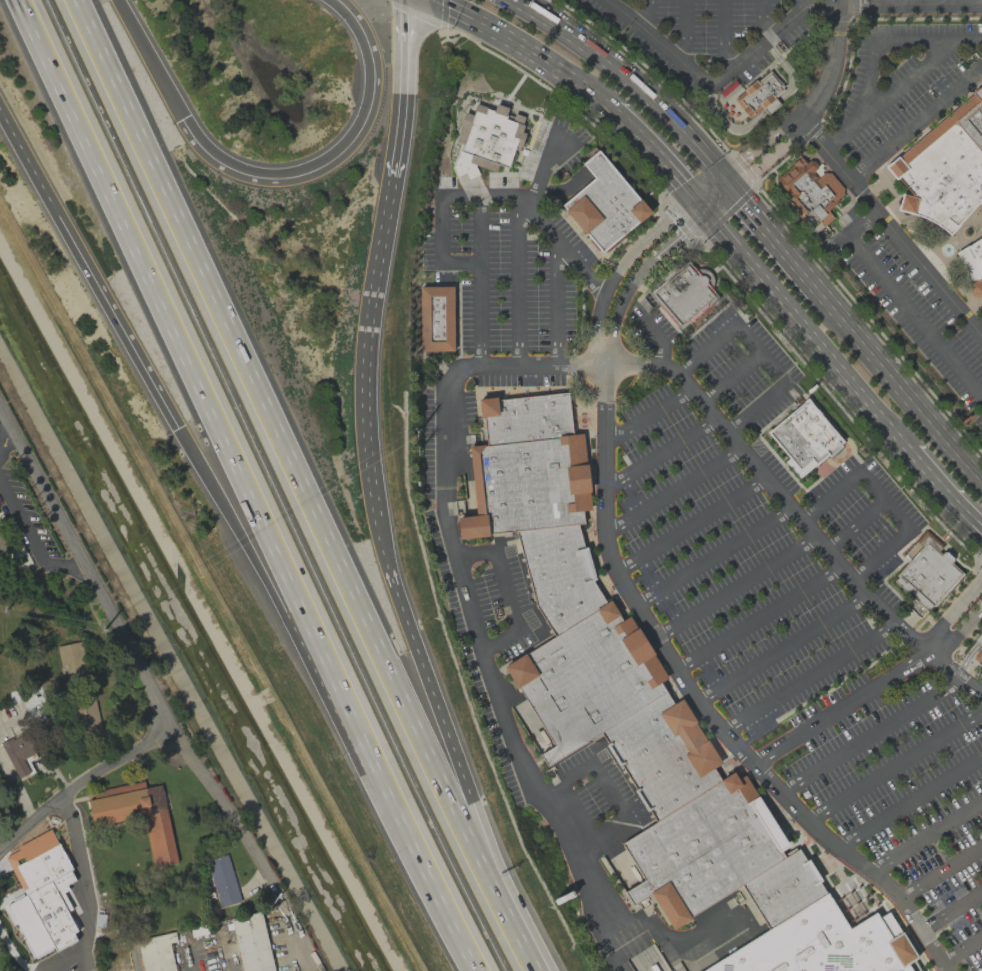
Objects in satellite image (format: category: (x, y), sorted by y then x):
road: (607, 0)
road: (948, 2)
road: (532, 3)
road: (875, 3)
road: (912, 3)
road: (797, 6)
road: (907, 6)
road: (645, 16)
road: (764, 20)
road: (483, 21)
road: (687, 33)
road: (725, 35)
road: (880, 45)
road: (829, 63)
road: (571, 77)
road: (717, 77)
road: (633, 82)
road: (901, 84)
road: (405, 88)
building: (757, 96)
road: (916, 120)
building: (486, 139)
road: (758, 144)
road: (766, 155)
road: (660, 160)
building: (943, 167)
traffic signals: (718, 174)
road: (272, 176)
road: (706, 184)
traffic signals: (729, 188)
building: (810, 193)
traffic signals: (695, 195)
road: (445, 198)
road: (717, 198)
building: (604, 203)
traffic signals: (706, 208)
road: (892, 228)
building: (980, 228)
road: (476, 230)
road: (772, 239)
road: (622, 266)
building: (972, 266)
road: (638, 273)
road: (515, 280)
building: (684, 294)
road: (553, 296)
road: (901, 301)
building: (436, 318)
road: (807, 329)
road: (981, 335)
road: (760, 355)
road: (728, 378)
road: (897, 389)
road: (646, 415)
building: (524, 417)
traffic signals: (178, 426)
road: (276, 435)
road: (5, 437)
building: (803, 438)
road: (658, 452)
building: (526, 485)
road: (247, 486)
road: (671, 489)
road: (944, 492)
road: (882, 500)
road: (219, 501)
road: (605, 503)
road: (689, 523)
road: (852, 523)
road: (383, 528)
road: (30, 542)
building: (2, 549)
road: (712, 556)
road: (86, 568)
building: (926, 572)
building: (558, 574)
road: (733, 586)
road: (510, 594)
road: (470, 608)
road: (952, 611)
road: (757, 616)
road: (959, 632)
building: (979, 637)
road: (782, 647)
building: (978, 654)
road: (968, 656)
building: (72, 659)
road: (956, 670)
road: (805, 673)
building: (586, 679)
road: (840, 708)
road: (869, 733)
building: (18, 754)
building: (662, 754)
road: (893, 765)
road: (907, 799)
building: (136, 815)
road: (71, 822)
road: (33, 823)
road: (926, 835)
road: (250, 845)
building: (703, 849)
road: (1, 850)
road: (941, 871)
building: (222, 881)
building: (45, 885)
building: (782, 888)
road: (951, 908)
road: (505, 920)
building: (251, 943)
building: (817, 945)
road: (961, 947)
building: (156, 952)
road: (189, 959)
road: (71, 960)

